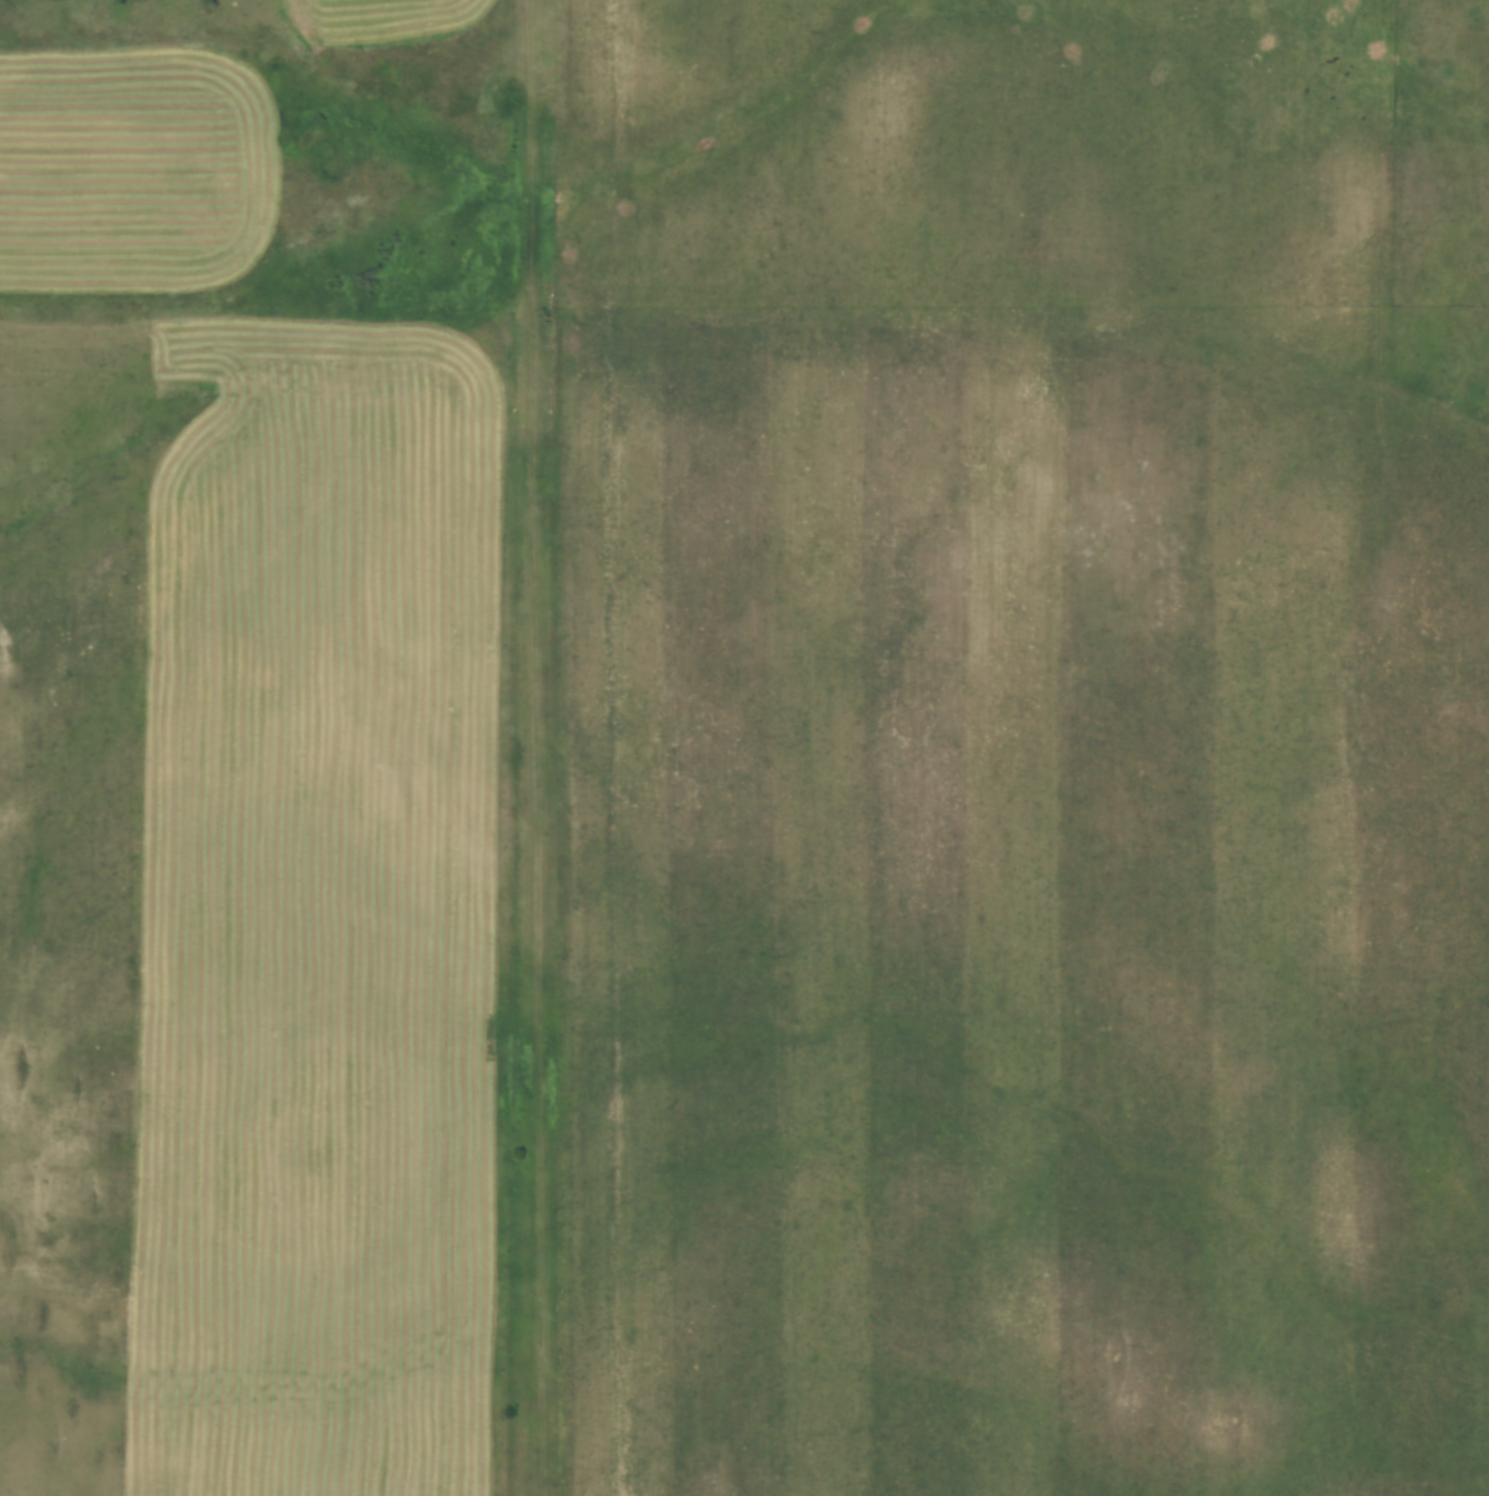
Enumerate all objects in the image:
road: (145, 329)
road: (533, 747)

